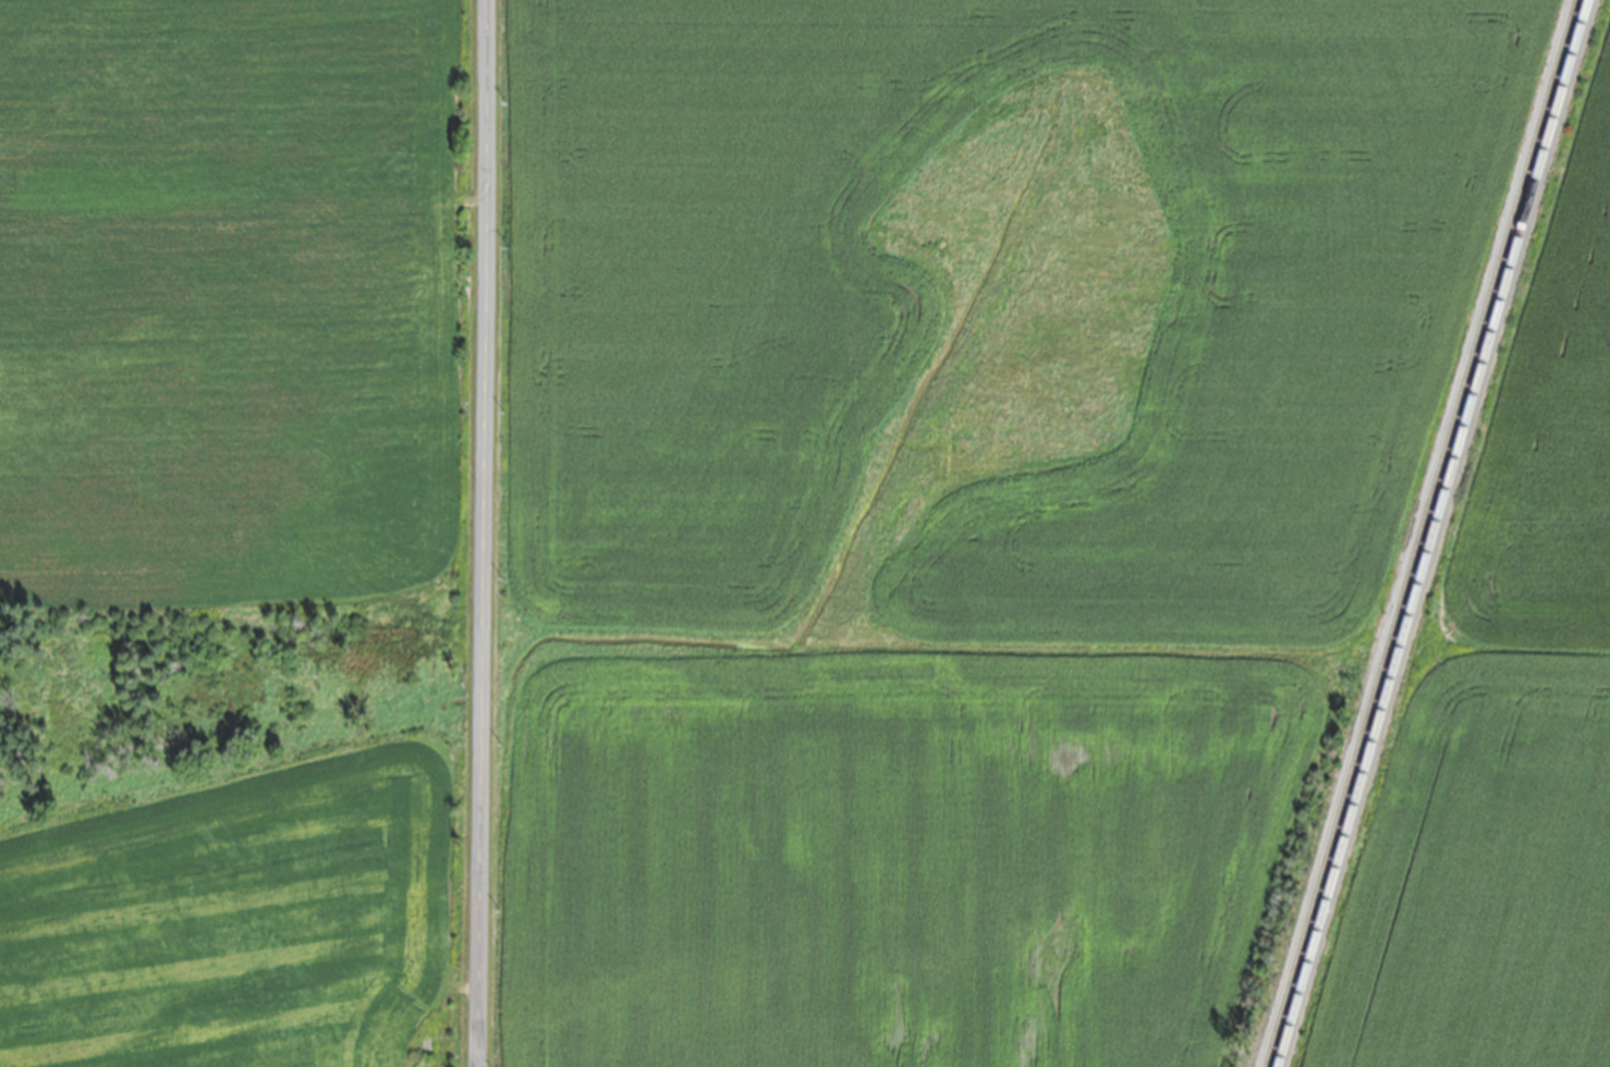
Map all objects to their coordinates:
railway: (1419, 532)
road: (481, 533)
railway: (1432, 533)

